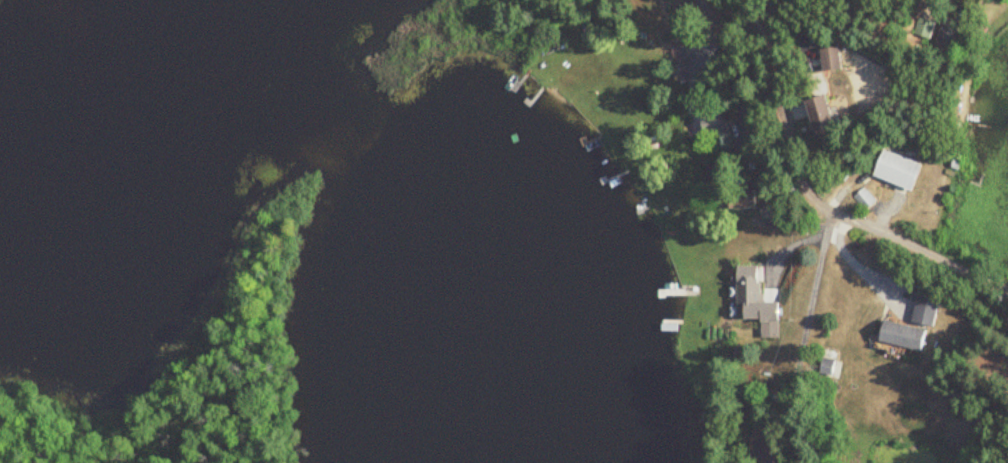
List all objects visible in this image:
road: (760, 7)
building: (926, 29)
building: (950, 35)
building: (832, 59)
building: (700, 62)
building: (823, 114)
building: (715, 121)
building: (904, 170)
building: (865, 199)
building: (744, 201)
road: (817, 202)
building: (757, 302)
building: (927, 308)
building: (905, 334)
road: (795, 339)
building: (829, 367)
building: (794, 459)

